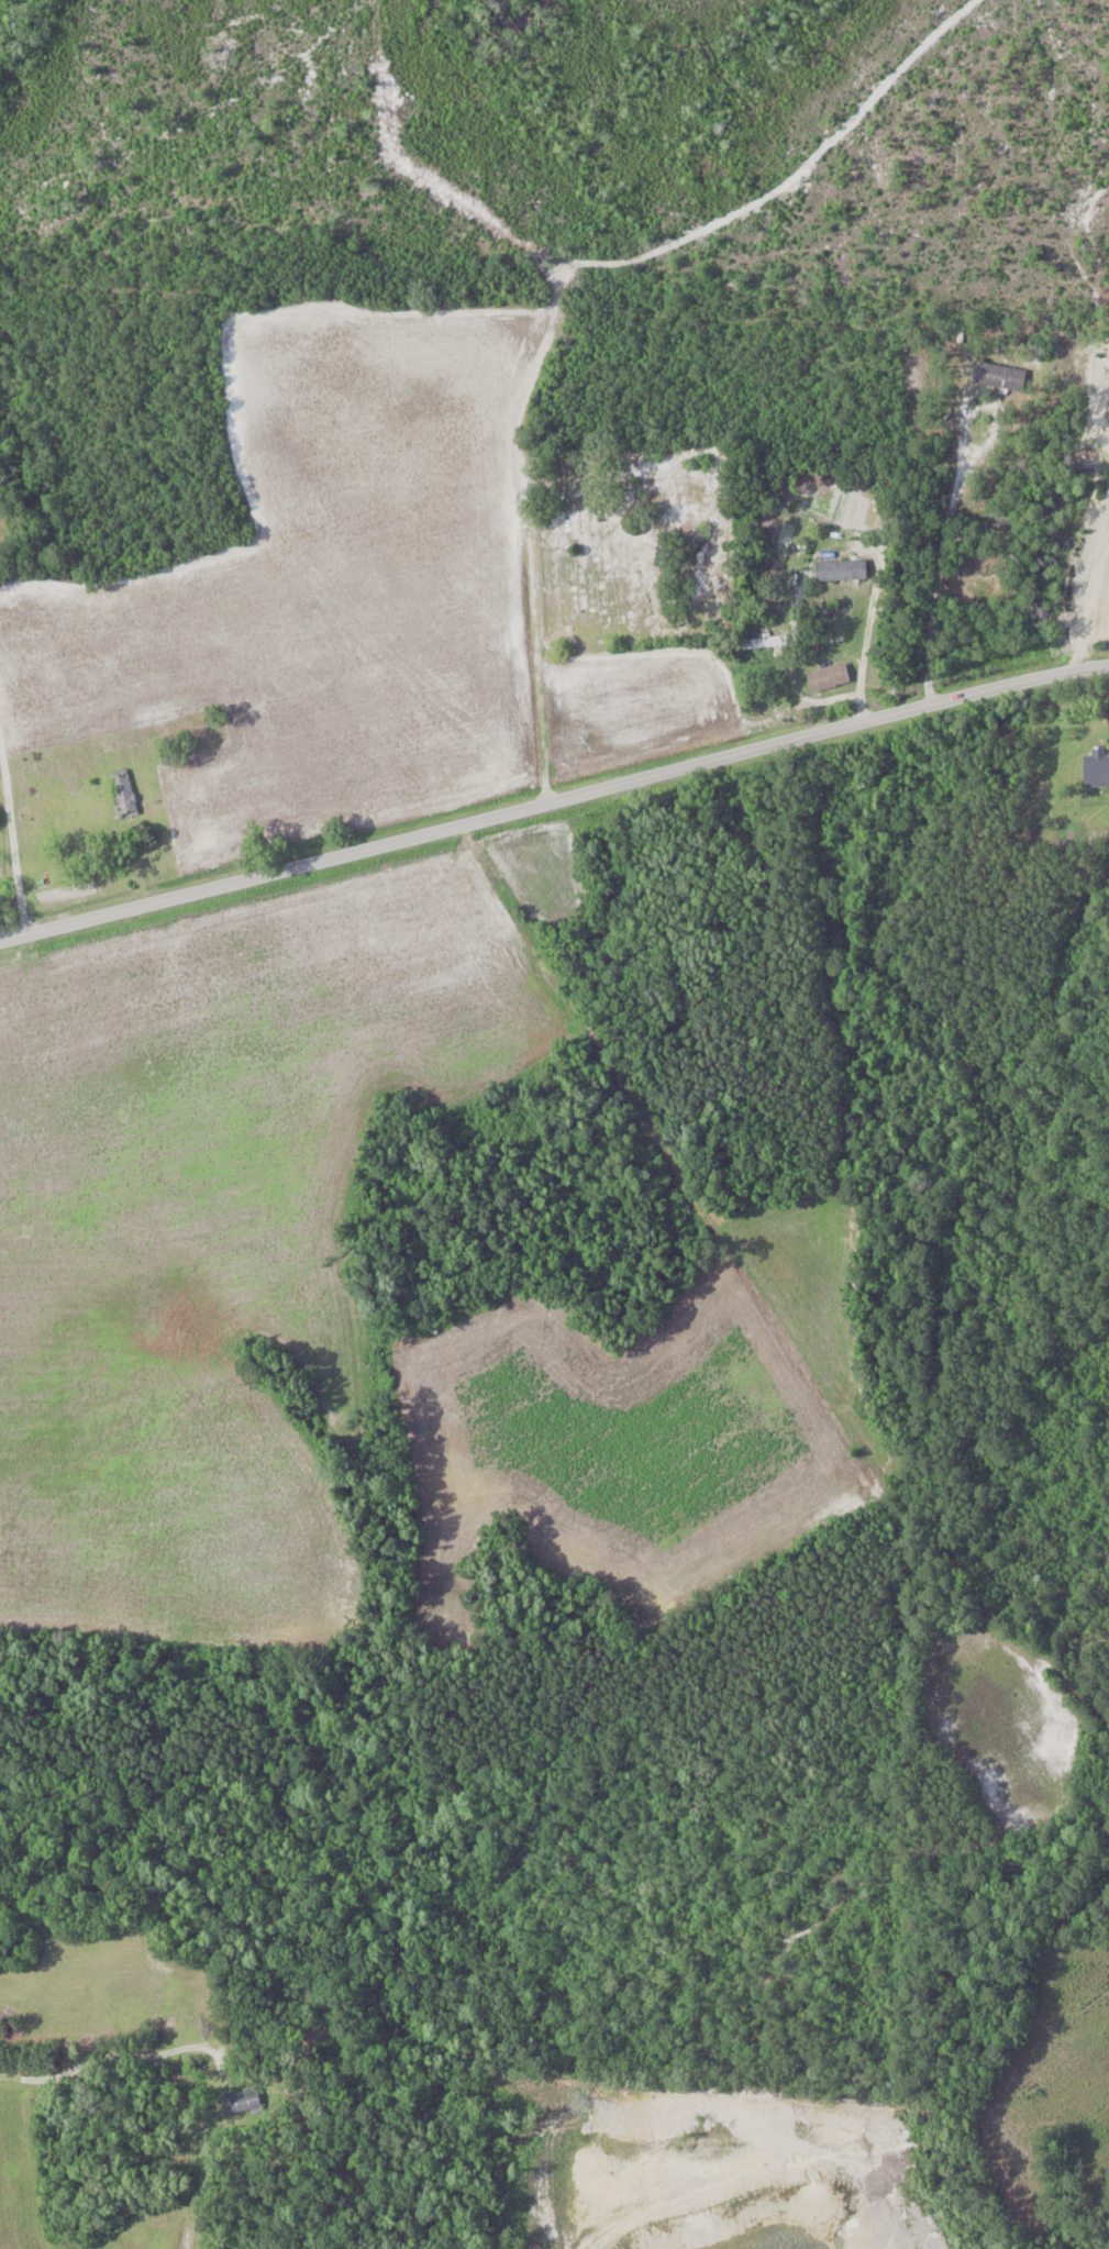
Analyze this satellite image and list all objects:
building: (1001, 375)
road: (1100, 418)
road: (950, 507)
road: (828, 546)
building: (843, 569)
road: (1085, 583)
building: (765, 642)
building: (829, 677)
building: (1094, 727)
building: (123, 793)
road: (553, 798)
road: (30, 822)
building: (243, 2101)
building: (187, 2235)

